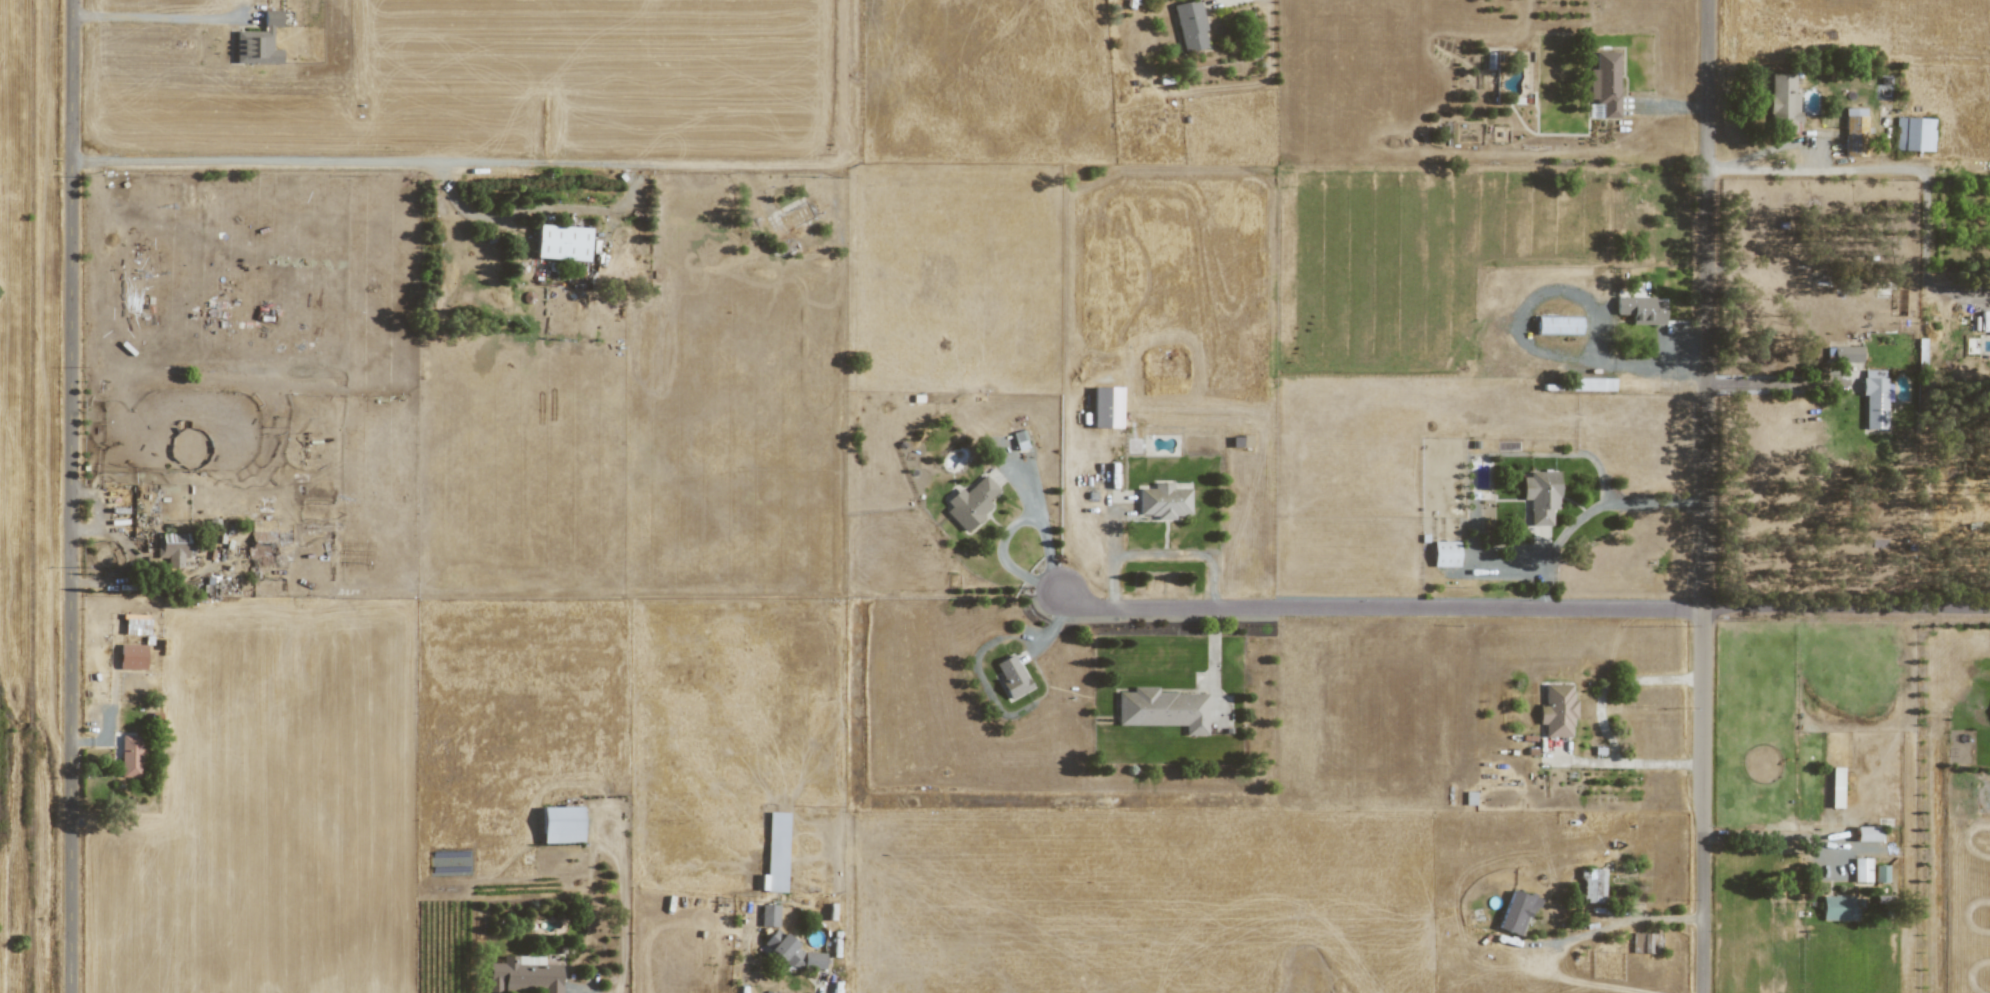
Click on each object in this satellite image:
road: (1220, 3)
road: (155, 17)
building: (1190, 24)
building: (259, 42)
building: (1604, 83)
building: (1782, 102)
road: (1671, 106)
building: (1854, 132)
building: (1914, 134)
road: (1787, 145)
road: (434, 159)
road: (1904, 169)
road: (540, 210)
road: (514, 225)
building: (562, 242)
building: (1641, 309)
building: (1557, 325)
building: (1844, 354)
road: (1666, 371)
road: (1774, 383)
building: (1592, 384)
building: (1874, 399)
building: (1106, 407)
building: (1540, 495)
road: (71, 496)
road: (1706, 496)
building: (1163, 500)
building: (970, 503)
road: (1592, 511)
road: (106, 513)
road: (1041, 522)
road: (1115, 548)
building: (171, 549)
building: (1445, 553)
road: (1187, 555)
road: (1507, 559)
road: (1007, 560)
road: (128, 574)
road: (1382, 607)
road: (1847, 611)
road: (1055, 622)
building: (132, 656)
road: (1215, 663)
road: (980, 673)
building: (1012, 676)
road: (1614, 681)
building: (1163, 709)
building: (1557, 710)
road: (88, 741)
building: (130, 755)
road: (1628, 763)
building: (1835, 787)
building: (561, 824)
building: (1866, 833)
road: (1787, 836)
road: (1850, 850)
building: (776, 851)
building: (1861, 869)
building: (1880, 873)
building: (1592, 885)
building: (1838, 908)
building: (1516, 913)
building: (769, 915)
road: (1666, 919)
road: (1577, 938)
building: (1640, 943)
building: (793, 952)
building: (524, 974)

